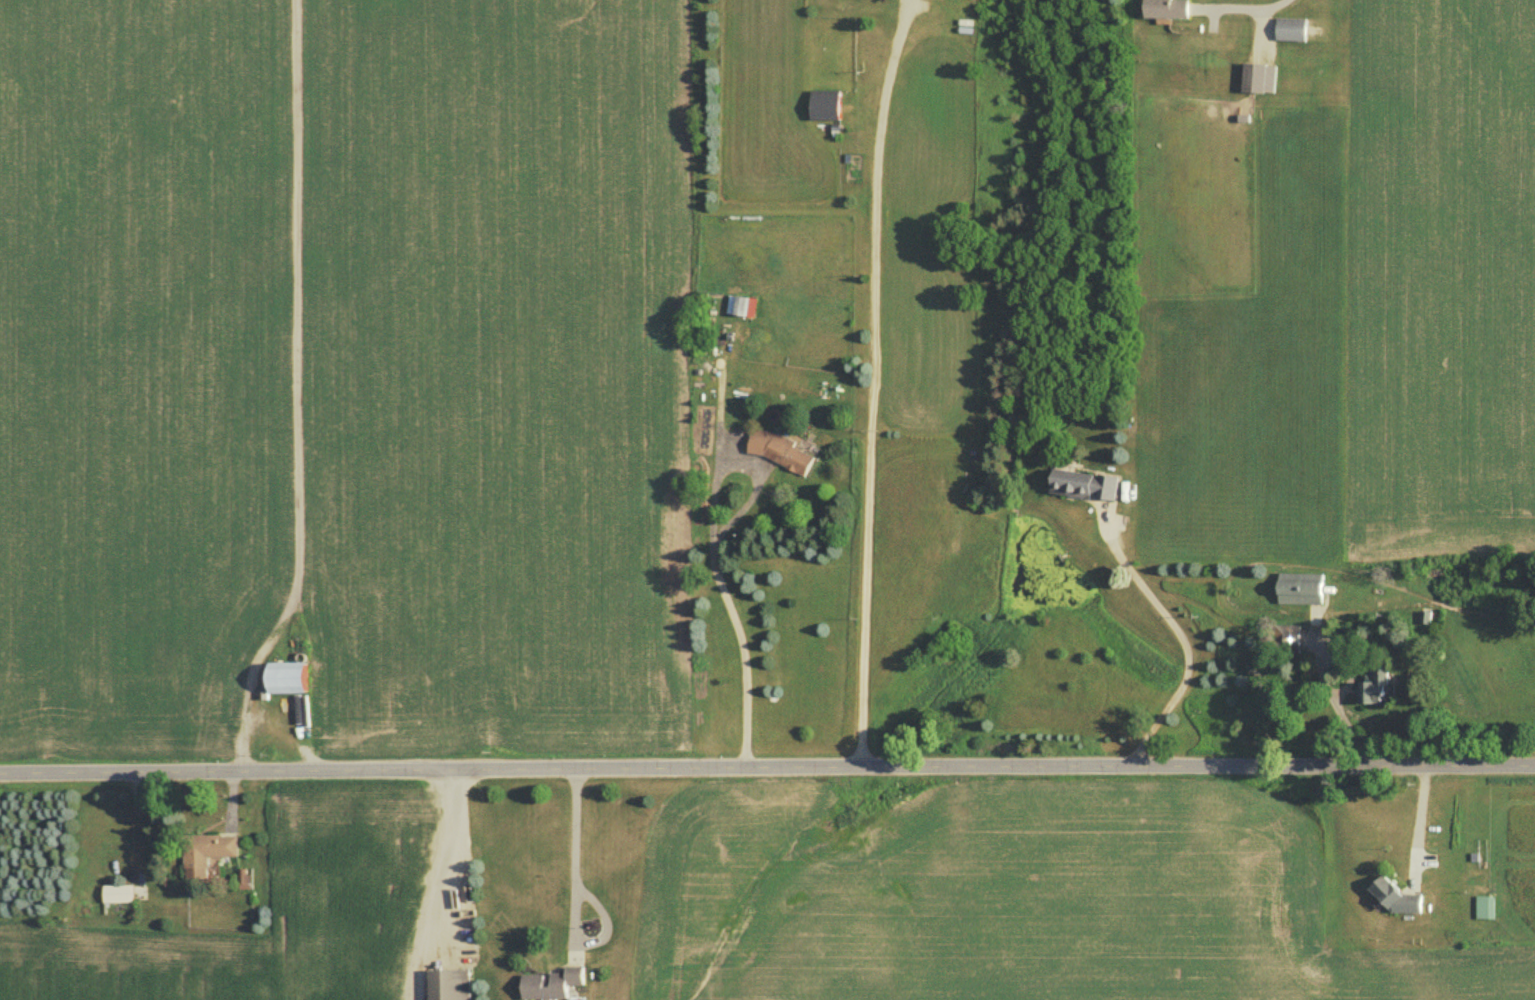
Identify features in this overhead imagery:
building: (1170, 9)
road: (1247, 11)
building: (1294, 31)
building: (1262, 80)
building: (828, 107)
building: (740, 306)
road: (872, 380)
building: (782, 453)
building: (1087, 486)
road: (712, 549)
building: (1304, 590)
road: (1179, 635)
building: (1292, 639)
building: (291, 679)
building: (1380, 687)
road: (767, 764)
road: (1417, 818)
building: (213, 851)
road: (449, 864)
building: (120, 895)
road: (576, 900)
building: (1401, 902)
building: (1487, 909)
building: (555, 985)
building: (452, 986)

